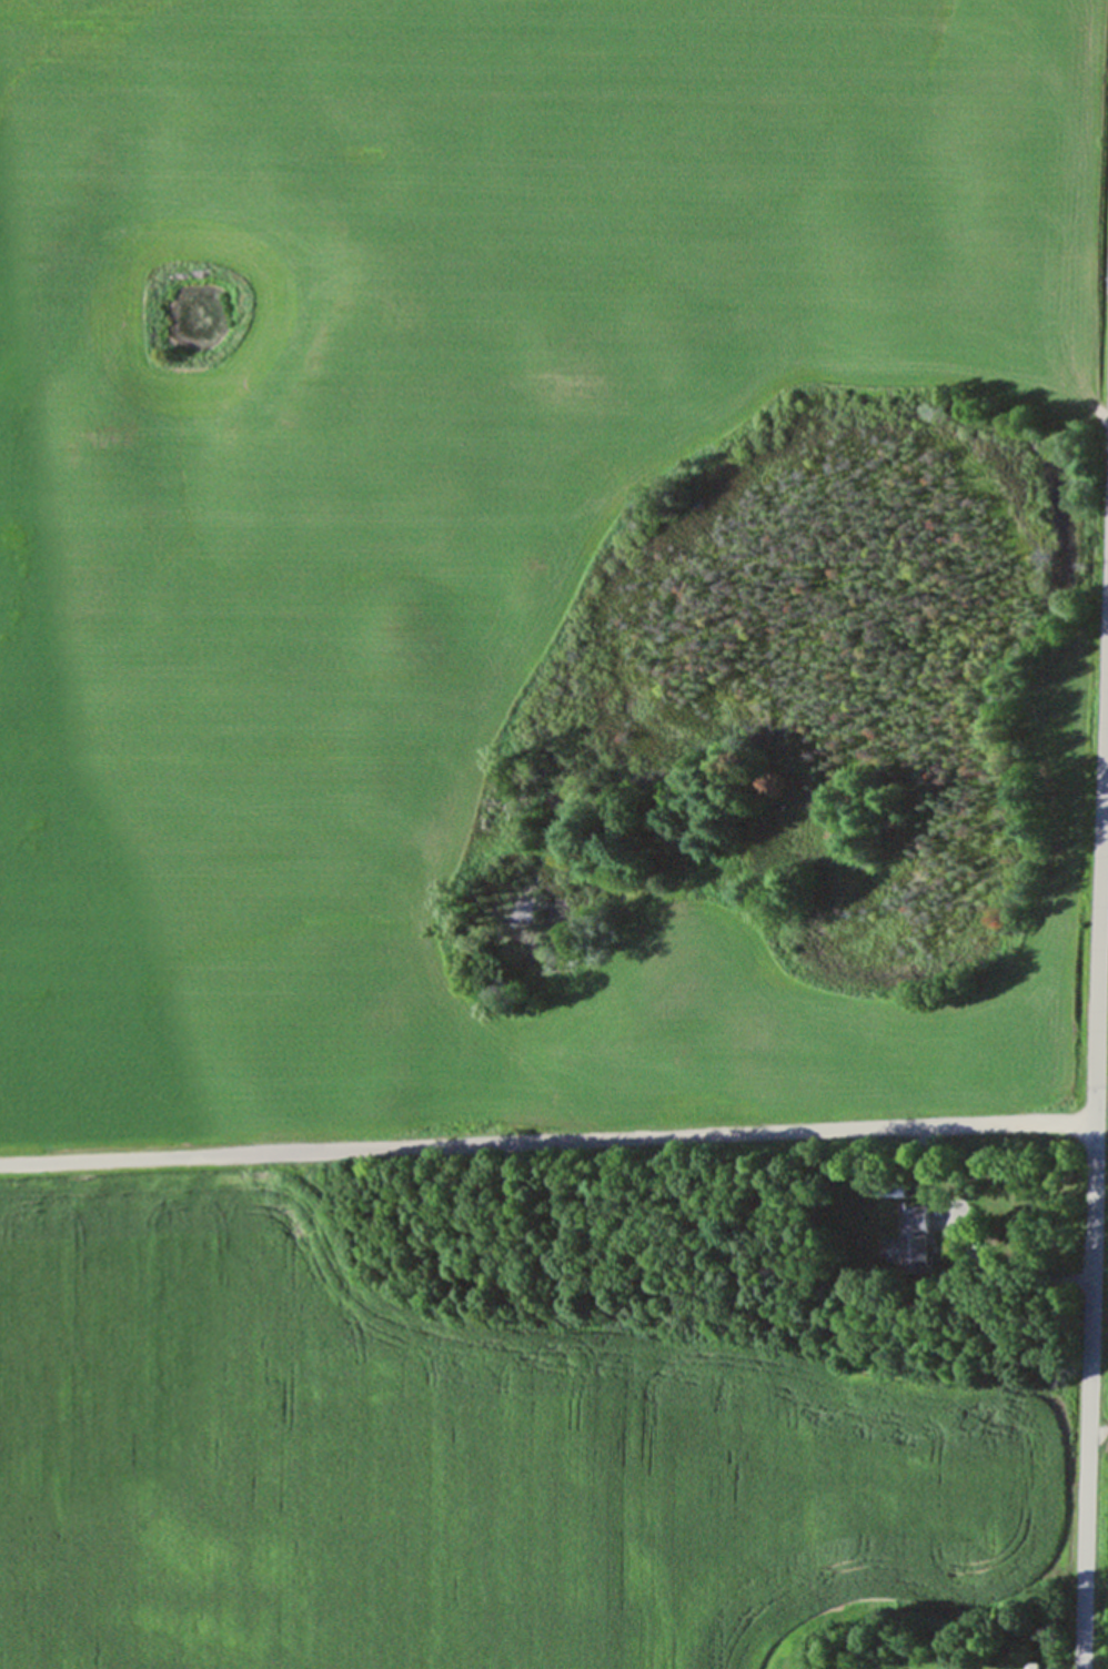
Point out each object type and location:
road: (1096, 1134)
road: (547, 1139)
building: (918, 1233)
building: (1037, 1665)

